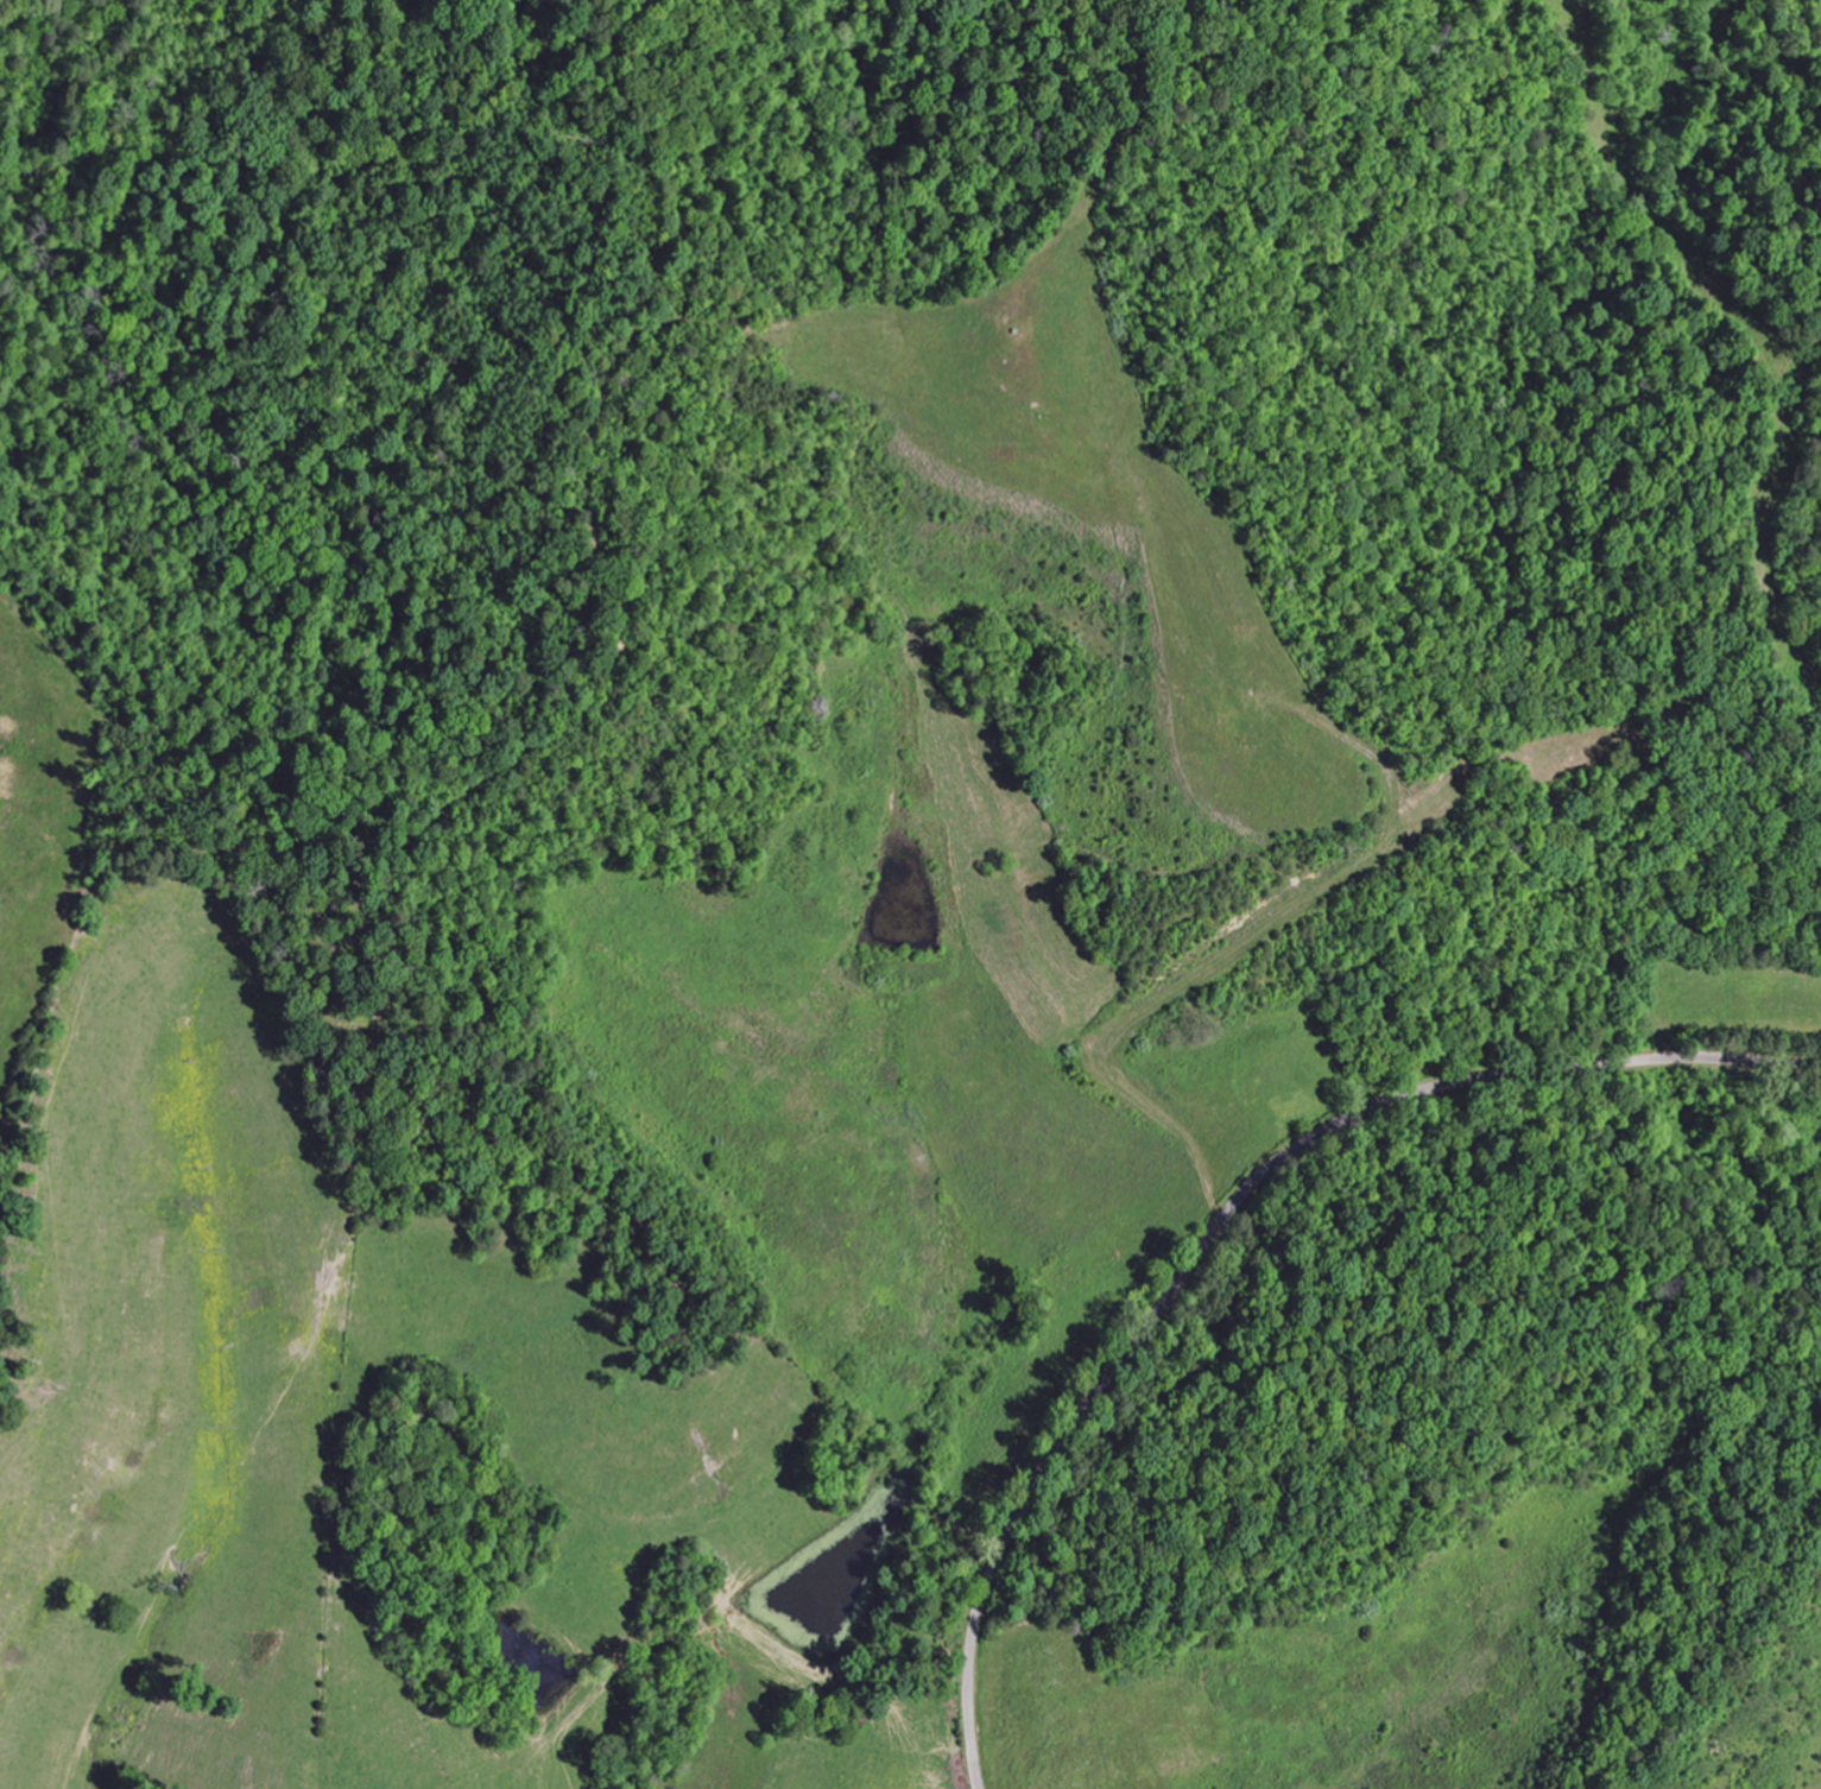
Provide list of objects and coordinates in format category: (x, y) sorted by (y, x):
road: (1224, 1219)

